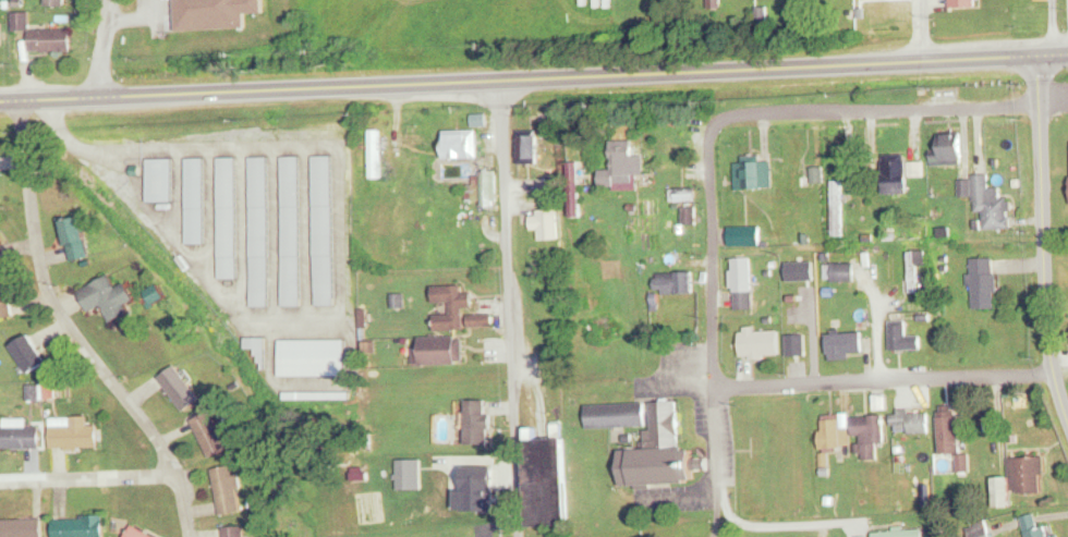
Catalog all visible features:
building: (57, 2)
building: (963, 3)
building: (216, 13)
road: (920, 30)
building: (0, 34)
road: (95, 49)
road: (533, 77)
road: (895, 105)
building: (461, 144)
building: (951, 147)
building: (527, 149)
building: (375, 154)
building: (626, 162)
building: (753, 173)
building: (898, 174)
building: (158, 180)
building: (486, 188)
building: (573, 190)
building: (194, 200)
building: (987, 202)
building: (687, 207)
building: (836, 211)
building: (227, 218)
building: (546, 224)
building: (324, 230)
building: (292, 231)
building: (259, 232)
building: (745, 235)
building: (75, 239)
road: (708, 247)
road: (1044, 249)
building: (913, 271)
building: (839, 272)
building: (787, 282)
building: (675, 283)
building: (743, 283)
building: (984, 283)
building: (5, 294)
building: (108, 298)
building: (451, 307)
road: (508, 307)
building: (480, 320)
road: (75, 330)
building: (847, 337)
building: (903, 337)
building: (761, 343)
building: (439, 351)
building: (29, 353)
building: (314, 357)
road: (881, 377)
building: (180, 388)
building: (41, 392)
building: (308, 395)
building: (617, 415)
building: (910, 422)
building: (478, 423)
building: (74, 432)
building: (870, 434)
building: (209, 435)
building: (20, 436)
building: (950, 437)
building: (658, 452)
road: (716, 461)
road: (88, 477)
building: (1020, 480)
building: (543, 483)
building: (227, 489)
building: (80, 526)
building: (23, 527)
building: (1033, 527)
building: (978, 529)
building: (234, 530)
building: (141, 532)
building: (899, 534)
building: (1057, 536)

